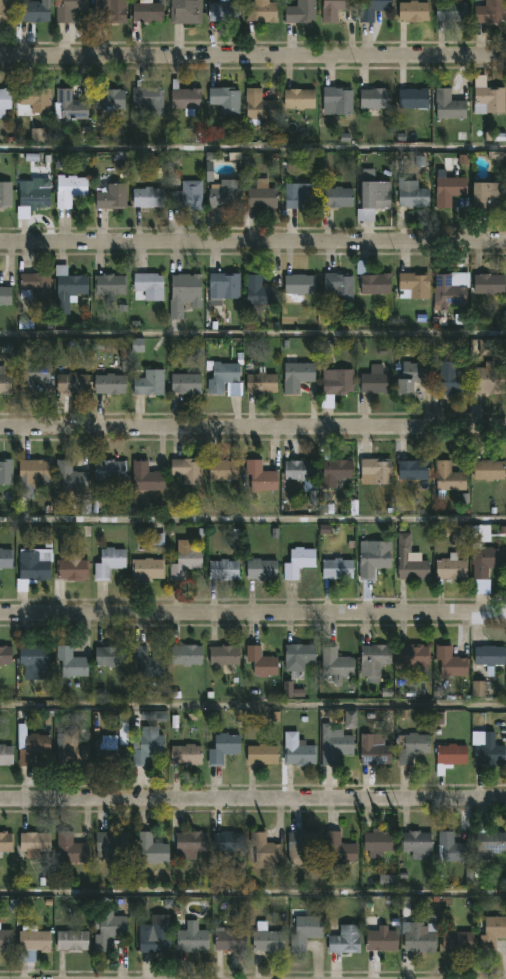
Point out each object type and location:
building: (68, 9)
building: (333, 9)
building: (372, 9)
building: (5, 10)
building: (32, 10)
building: (146, 10)
building: (222, 10)
building: (412, 10)
building: (450, 10)
building: (110, 11)
building: (185, 11)
building: (260, 11)
building: (299, 11)
building: (489, 12)
road: (253, 56)
building: (374, 97)
building: (412, 97)
building: (108, 98)
building: (184, 98)
building: (224, 98)
building: (5, 99)
building: (33, 99)
building: (148, 99)
building: (298, 99)
building: (337, 99)
building: (488, 99)
building: (448, 104)
building: (68, 105)
building: (258, 106)
road: (253, 150)
building: (448, 187)
building: (68, 189)
building: (5, 193)
building: (224, 193)
building: (373, 193)
building: (411, 193)
building: (261, 194)
building: (109, 195)
building: (187, 195)
building: (487, 195)
building: (147, 196)
building: (301, 196)
building: (336, 196)
building: (30, 198)
road: (253, 241)
building: (372, 279)
building: (68, 280)
building: (488, 283)
building: (33, 284)
building: (298, 284)
building: (413, 284)
building: (109, 285)
building: (148, 285)
building: (223, 286)
building: (337, 286)
building: (183, 292)
building: (447, 292)
building: (257, 294)
building: (5, 295)
road: (253, 339)
building: (32, 375)
building: (222, 375)
building: (297, 375)
building: (410, 376)
building: (489, 377)
building: (448, 379)
building: (374, 380)
building: (261, 381)
building: (337, 381)
building: (4, 382)
building: (70, 383)
building: (109, 383)
building: (149, 383)
building: (184, 383)
road: (252, 429)
building: (222, 469)
building: (376, 469)
building: (412, 469)
building: (488, 469)
building: (107, 470)
building: (187, 470)
building: (299, 470)
building: (5, 471)
building: (335, 471)
building: (30, 475)
building: (145, 476)
building: (261, 476)
building: (71, 477)
building: (447, 478)
road: (253, 520)
building: (152, 534)
building: (5, 558)
building: (372, 558)
building: (183, 559)
building: (410, 560)
building: (486, 561)
building: (108, 562)
building: (297, 562)
building: (70, 564)
building: (33, 566)
building: (336, 568)
building: (450, 568)
building: (147, 569)
building: (223, 569)
building: (261, 569)
road: (252, 615)
building: (5, 654)
building: (184, 655)
building: (222, 655)
building: (109, 656)
building: (298, 656)
building: (413, 657)
building: (489, 657)
building: (34, 659)
building: (373, 660)
building: (449, 661)
building: (147, 662)
building: (261, 662)
building: (70, 663)
building: (335, 664)
building: (481, 689)
road: (253, 710)
building: (492, 742)
building: (145, 745)
building: (333, 745)
building: (32, 747)
building: (222, 748)
building: (412, 749)
building: (70, 750)
building: (112, 751)
building: (374, 752)
building: (5, 754)
building: (186, 754)
building: (298, 754)
building: (261, 755)
building: (450, 756)
road: (252, 800)
building: (35, 839)
building: (109, 841)
building: (228, 841)
building: (5, 842)
building: (190, 843)
building: (377, 843)
building: (415, 843)
building: (489, 844)
building: (301, 845)
building: (339, 847)
building: (451, 847)
building: (69, 848)
building: (151, 848)
building: (264, 848)
road: (252, 897)
building: (108, 929)
building: (305, 932)
building: (491, 932)
building: (383, 936)
building: (191, 937)
building: (420, 937)
building: (5, 938)
building: (33, 938)
building: (156, 938)
building: (266, 938)
building: (71, 939)
building: (229, 939)
building: (345, 939)
building: (456, 940)

